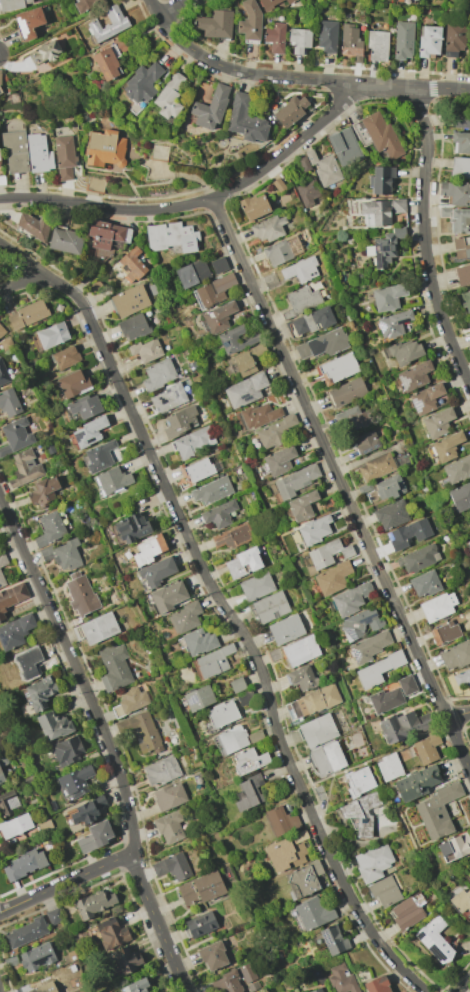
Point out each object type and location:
building: (270, 3)
building: (14, 4)
road: (173, 7)
building: (249, 20)
building: (29, 22)
building: (106, 24)
building: (214, 24)
road: (62, 32)
building: (327, 36)
building: (274, 37)
building: (299, 39)
building: (403, 40)
building: (453, 40)
building: (428, 41)
building: (350, 42)
building: (377, 45)
building: (44, 53)
building: (106, 64)
road: (266, 75)
building: (141, 83)
road: (440, 87)
building: (1, 89)
building: (168, 96)
building: (210, 108)
building: (290, 110)
building: (245, 119)
building: (460, 120)
building: (381, 135)
building: (461, 142)
building: (344, 146)
building: (104, 148)
building: (15, 151)
building: (38, 153)
building: (63, 157)
building: (460, 167)
building: (327, 171)
building: (381, 180)
building: (307, 191)
building: (455, 193)
road: (200, 201)
building: (397, 205)
building: (254, 206)
building: (375, 212)
building: (457, 219)
building: (31, 226)
building: (268, 228)
road: (426, 232)
building: (171, 236)
building: (106, 237)
building: (65, 241)
building: (461, 247)
building: (384, 248)
building: (277, 253)
building: (131, 263)
building: (218, 265)
building: (300, 270)
building: (191, 273)
building: (462, 274)
road: (22, 282)
building: (212, 291)
building: (387, 297)
building: (302, 299)
building: (129, 300)
building: (466, 300)
building: (27, 315)
building: (218, 317)
building: (311, 321)
building: (394, 324)
building: (133, 327)
building: (2, 333)
building: (51, 335)
building: (233, 340)
building: (322, 344)
building: (146, 350)
building: (404, 351)
building: (65, 357)
building: (241, 363)
building: (336, 368)
building: (3, 374)
building: (158, 374)
building: (414, 376)
building: (72, 383)
building: (245, 390)
building: (346, 392)
building: (167, 398)
building: (425, 399)
building: (8, 403)
building: (84, 406)
building: (259, 415)
building: (352, 419)
building: (178, 421)
building: (437, 422)
building: (275, 431)
building: (88, 432)
building: (15, 435)
building: (193, 442)
building: (365, 442)
building: (444, 447)
building: (98, 456)
building: (279, 460)
building: (25, 466)
building: (376, 467)
building: (199, 469)
building: (457, 470)
building: (112, 480)
building: (295, 481)
road: (342, 484)
building: (388, 487)
building: (43, 491)
building: (211, 491)
building: (460, 496)
building: (301, 506)
building: (469, 512)
building: (218, 514)
building: (391, 514)
building: (49, 528)
building: (131, 528)
building: (314, 529)
building: (408, 533)
building: (231, 537)
building: (469, 540)
building: (148, 549)
building: (63, 556)
building: (418, 558)
building: (2, 560)
building: (242, 563)
building: (156, 572)
building: (332, 578)
building: (1, 581)
building: (424, 584)
building: (256, 586)
building: (79, 594)
building: (168, 596)
building: (11, 598)
building: (350, 599)
building: (438, 606)
road: (225, 607)
building: (269, 607)
building: (184, 617)
building: (360, 624)
building: (98, 628)
building: (285, 629)
building: (15, 631)
building: (444, 632)
building: (198, 641)
building: (368, 647)
building: (300, 651)
building: (455, 655)
building: (26, 662)
building: (212, 662)
building: (113, 667)
building: (377, 669)
building: (461, 676)
building: (301, 677)
building: (236, 684)
building: (406, 685)
building: (39, 693)
building: (198, 698)
building: (385, 699)
building: (129, 701)
building: (312, 701)
building: (222, 714)
road: (458, 714)
building: (53, 725)
building: (403, 725)
building: (317, 730)
building: (140, 731)
road: (107, 739)
building: (229, 740)
building: (426, 748)
building: (66, 750)
building: (326, 759)
building: (249, 760)
building: (388, 766)
building: (161, 770)
building: (1, 777)
building: (358, 781)
building: (74, 782)
building: (416, 783)
building: (248, 792)
building: (168, 796)
building: (7, 803)
building: (87, 810)
building: (436, 811)
building: (360, 813)
building: (281, 820)
building: (14, 826)
building: (169, 827)
road: (208, 835)
building: (95, 836)
building: (298, 837)
building: (454, 847)
building: (284, 855)
building: (372, 862)
building: (23, 864)
building: (172, 867)
building: (302, 880)
building: (468, 881)
road: (66, 883)
building: (200, 889)
building: (383, 891)
building: (461, 900)
building: (94, 902)
building: (313, 913)
building: (405, 913)
building: (52, 916)
building: (200, 924)
building: (25, 932)
building: (111, 933)
building: (434, 939)
building: (333, 940)
building: (212, 956)
building: (36, 957)
building: (124, 961)
building: (246, 972)
building: (341, 978)
building: (226, 983)
building: (377, 985)
road: (463, 985)
building: (135, 986)
building: (44, 988)
building: (316, 990)
building: (294, 991)

